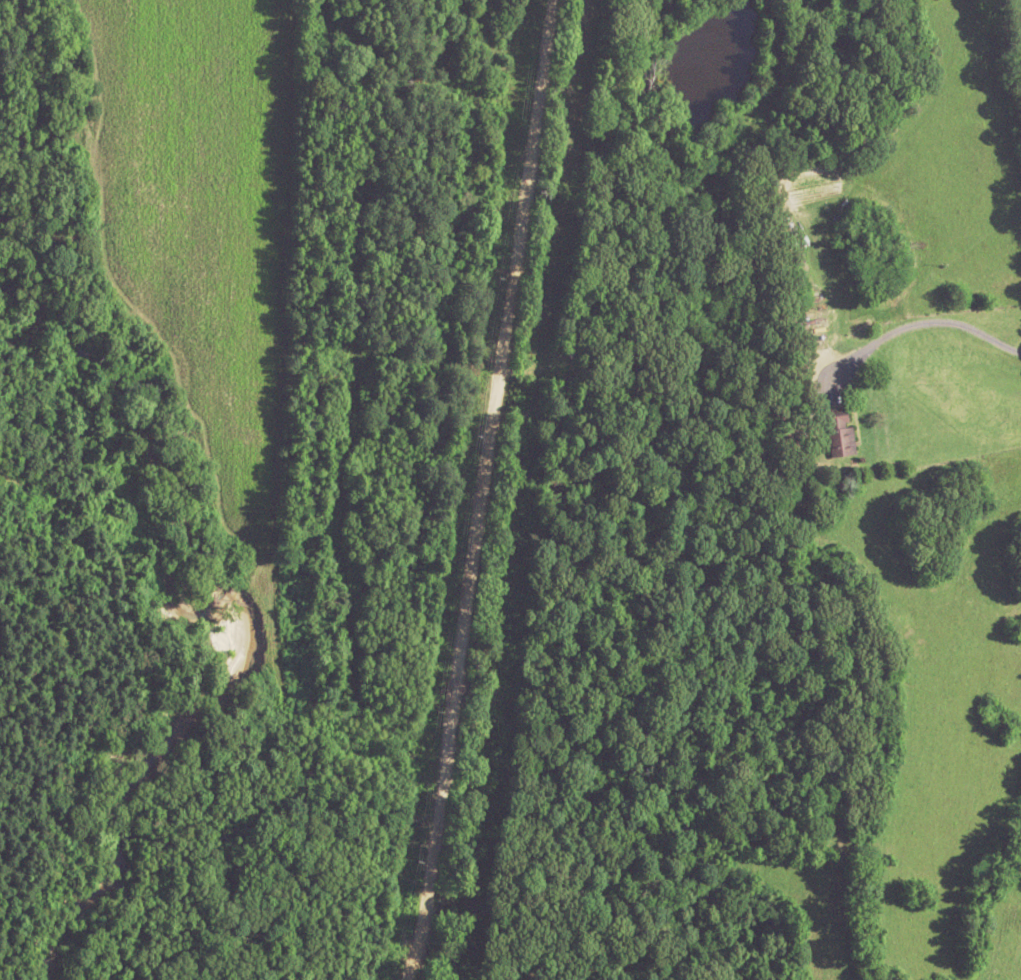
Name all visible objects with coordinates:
building: (546, 399)
building: (840, 430)
road: (483, 491)

